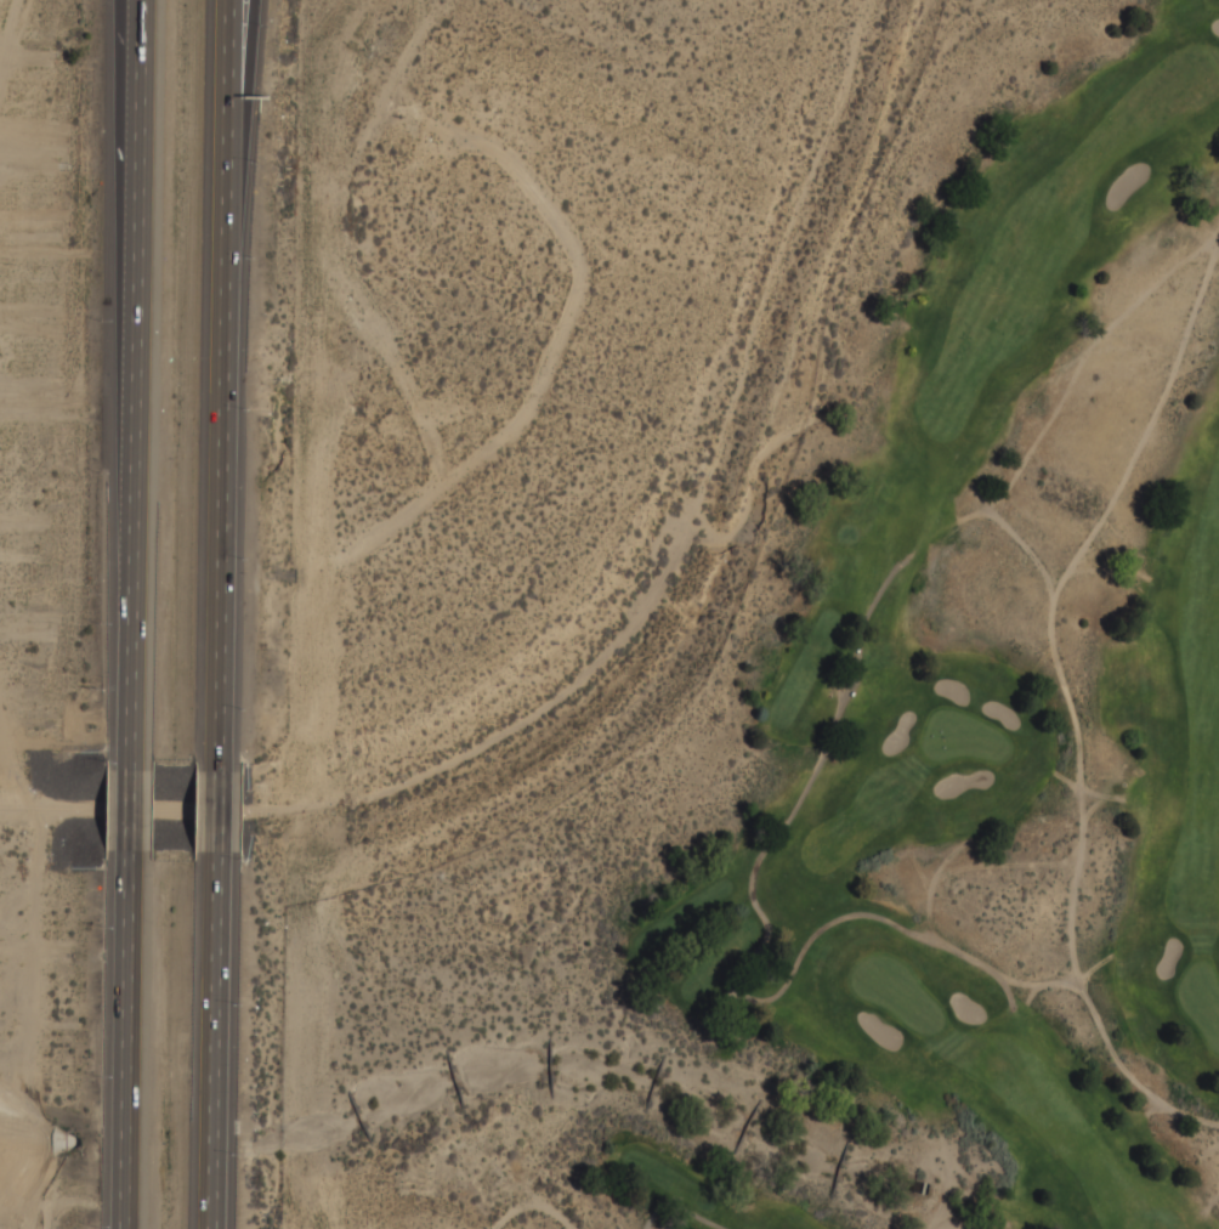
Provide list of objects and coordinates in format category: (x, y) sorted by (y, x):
road: (138, 30)
road: (248, 69)
road: (135, 385)
road: (237, 385)
park: (871, 753)
railway: (125, 806)
road: (129, 811)
road: (228, 811)
road: (123, 1040)
road: (222, 1040)
road: (680, 1207)

